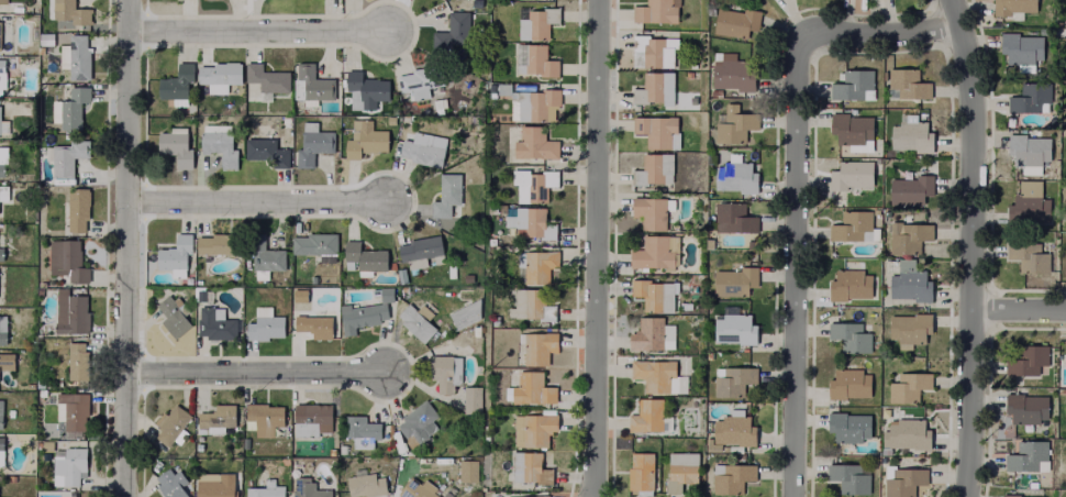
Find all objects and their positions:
building: (2, 0)
building: (210, 0)
building: (1010, 4)
building: (68, 9)
building: (656, 10)
building: (536, 20)
building: (737, 21)
building: (452, 29)
building: (3, 32)
road: (257, 34)
building: (647, 47)
building: (1019, 47)
building: (74, 55)
building: (534, 58)
building: (1, 64)
building: (218, 74)
building: (733, 74)
building: (266, 77)
building: (419, 79)
building: (907, 80)
building: (852, 81)
building: (176, 82)
building: (311, 82)
building: (654, 86)
building: (364, 88)
building: (1026, 93)
building: (535, 100)
building: (67, 104)
building: (735, 125)
building: (852, 126)
building: (3, 128)
building: (656, 128)
building: (909, 132)
building: (365, 137)
building: (219, 141)
building: (312, 141)
building: (534, 142)
building: (175, 143)
building: (422, 146)
building: (267, 148)
building: (1026, 151)
building: (65, 154)
building: (1, 168)
building: (654, 168)
building: (851, 173)
building: (736, 176)
road: (793, 180)
building: (535, 184)
building: (908, 187)
building: (3, 190)
building: (446, 192)
road: (257, 203)
building: (1025, 206)
building: (75, 208)
building: (652, 209)
building: (735, 217)
building: (526, 219)
building: (851, 224)
building: (908, 232)
building: (218, 242)
building: (317, 243)
road: (124, 247)
road: (971, 247)
road: (597, 248)
building: (420, 250)
building: (654, 251)
building: (0, 252)
building: (175, 254)
building: (1026, 254)
building: (264, 255)
building: (1065, 255)
building: (363, 256)
building: (68, 259)
building: (537, 262)
building: (451, 269)
building: (844, 280)
building: (736, 281)
building: (908, 283)
building: (654, 292)
building: (386, 294)
building: (532, 303)
building: (70, 309)
building: (362, 312)
road: (1019, 312)
building: (424, 313)
building: (465, 313)
building: (171, 314)
building: (260, 321)
building: (415, 321)
building: (214, 322)
building: (313, 324)
building: (732, 324)
building: (906, 327)
building: (2, 328)
building: (647, 333)
building: (850, 333)
building: (536, 345)
building: (1065, 351)
building: (2, 357)
building: (1025, 357)
building: (76, 358)
building: (445, 371)
building: (654, 372)
road: (255, 374)
building: (731, 378)
building: (846, 382)
building: (904, 383)
building: (532, 386)
building: (471, 398)
building: (1064, 405)
building: (1023, 407)
building: (71, 409)
building: (646, 415)
building: (0, 416)
building: (216, 416)
building: (310, 416)
building: (263, 417)
building: (420, 421)
building: (171, 423)
building: (846, 426)
building: (533, 427)
building: (732, 427)
building: (362, 429)
building: (906, 431)
building: (1, 442)
building: (1065, 453)
building: (1026, 461)
building: (68, 464)
building: (1065, 464)
building: (529, 465)
building: (679, 468)
building: (467, 470)
building: (640, 470)
building: (730, 475)
building: (846, 475)
building: (903, 479)
building: (170, 483)
building: (362, 483)
building: (214, 487)
building: (307, 487)
building: (418, 488)
building: (265, 489)
building: (528, 495)
building: (1064, 495)
building: (1013, 496)

